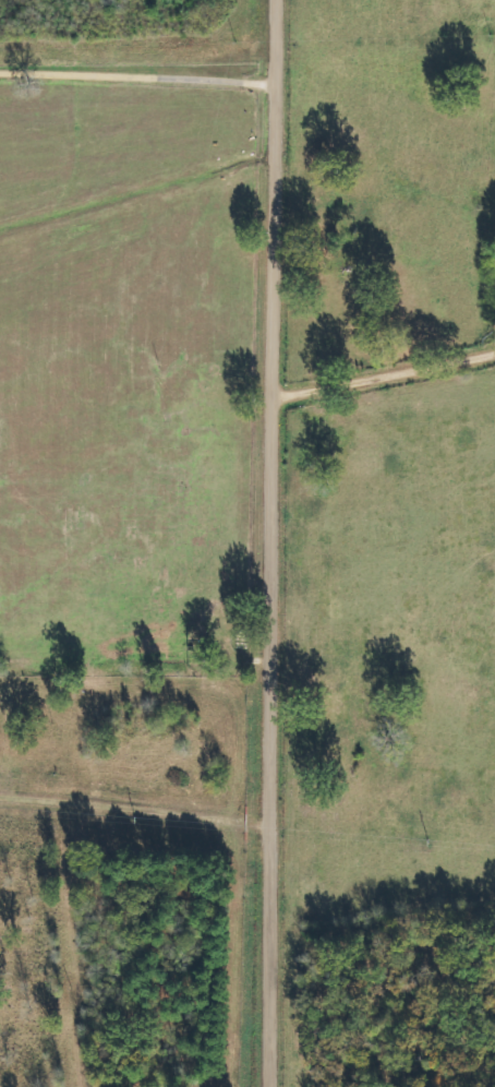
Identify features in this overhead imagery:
road: (277, 542)

